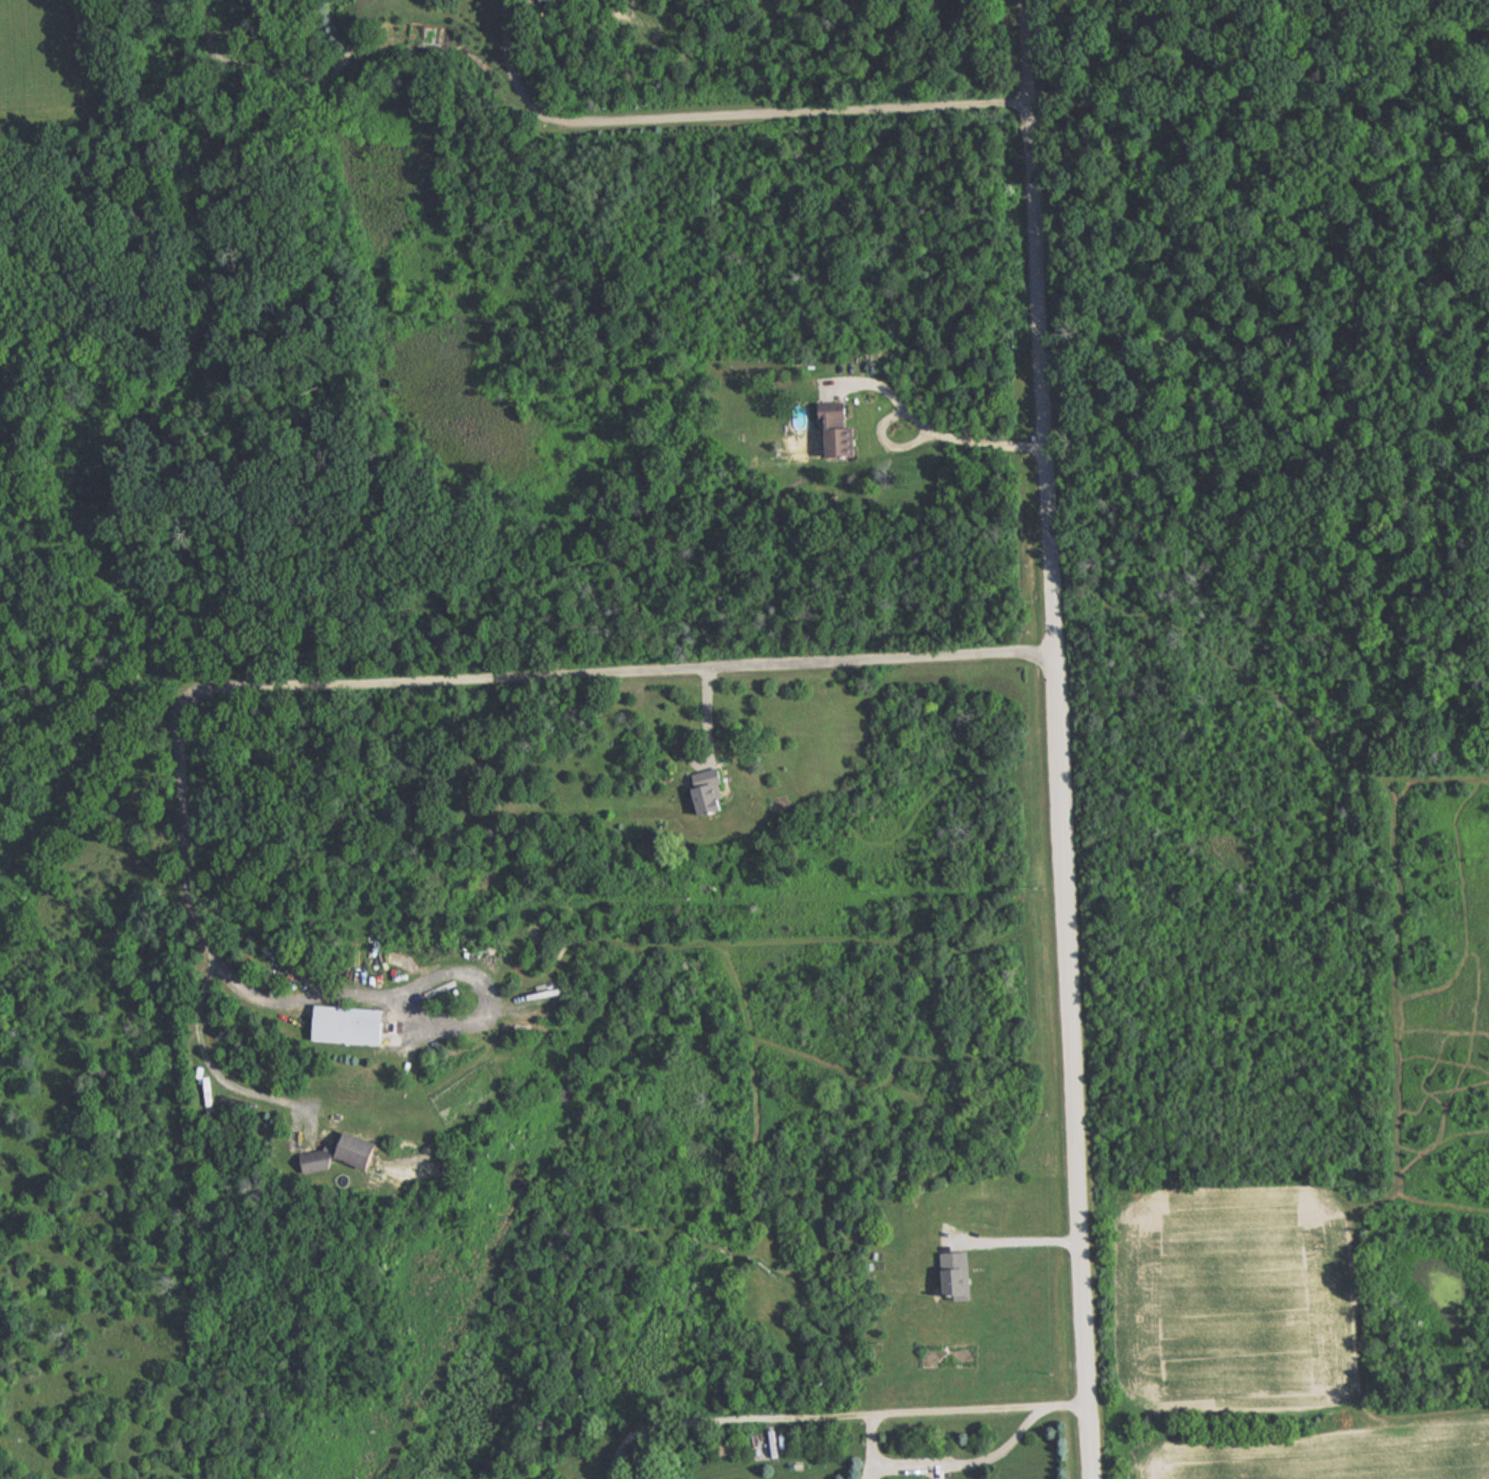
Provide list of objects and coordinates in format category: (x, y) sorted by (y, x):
building: (541, 0)
road: (719, 113)
road: (933, 430)
building: (840, 434)
road: (422, 675)
road: (1053, 739)
building: (712, 791)
building: (350, 1024)
road: (207, 1059)
building: (361, 1150)
building: (319, 1159)
road: (1023, 1240)
building: (957, 1283)
road: (830, 1415)
road: (945, 1463)
building: (557, 1477)

